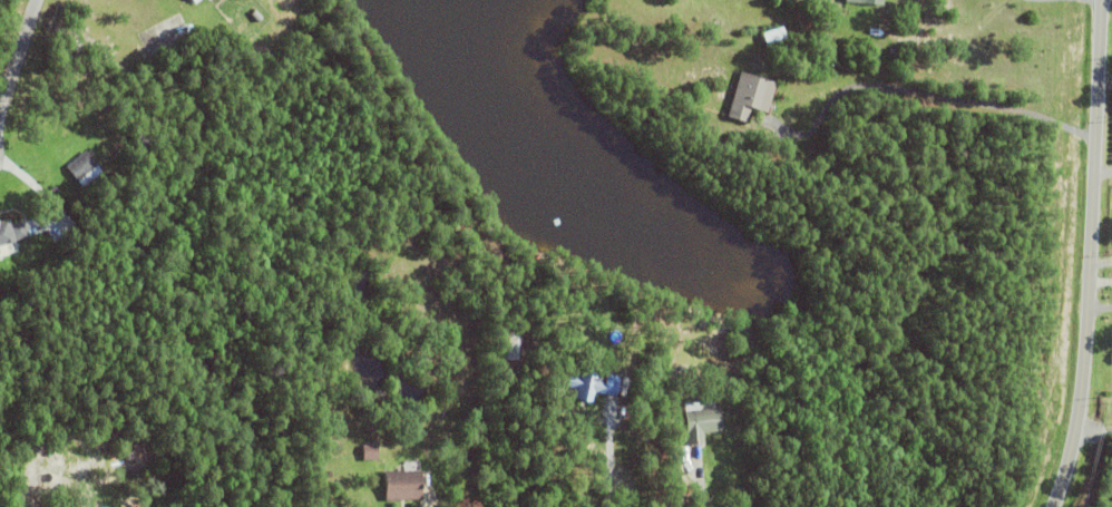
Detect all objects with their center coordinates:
building: (195, 1)
building: (867, 1)
road: (18, 56)
building: (750, 96)
building: (84, 169)
building: (10, 235)
road: (1091, 255)
road: (1100, 306)
building: (508, 348)
building: (585, 386)
building: (702, 425)
building: (369, 454)
building: (129, 456)
road: (603, 461)
road: (694, 479)
building: (402, 486)
building: (133, 506)
building: (152, 506)

